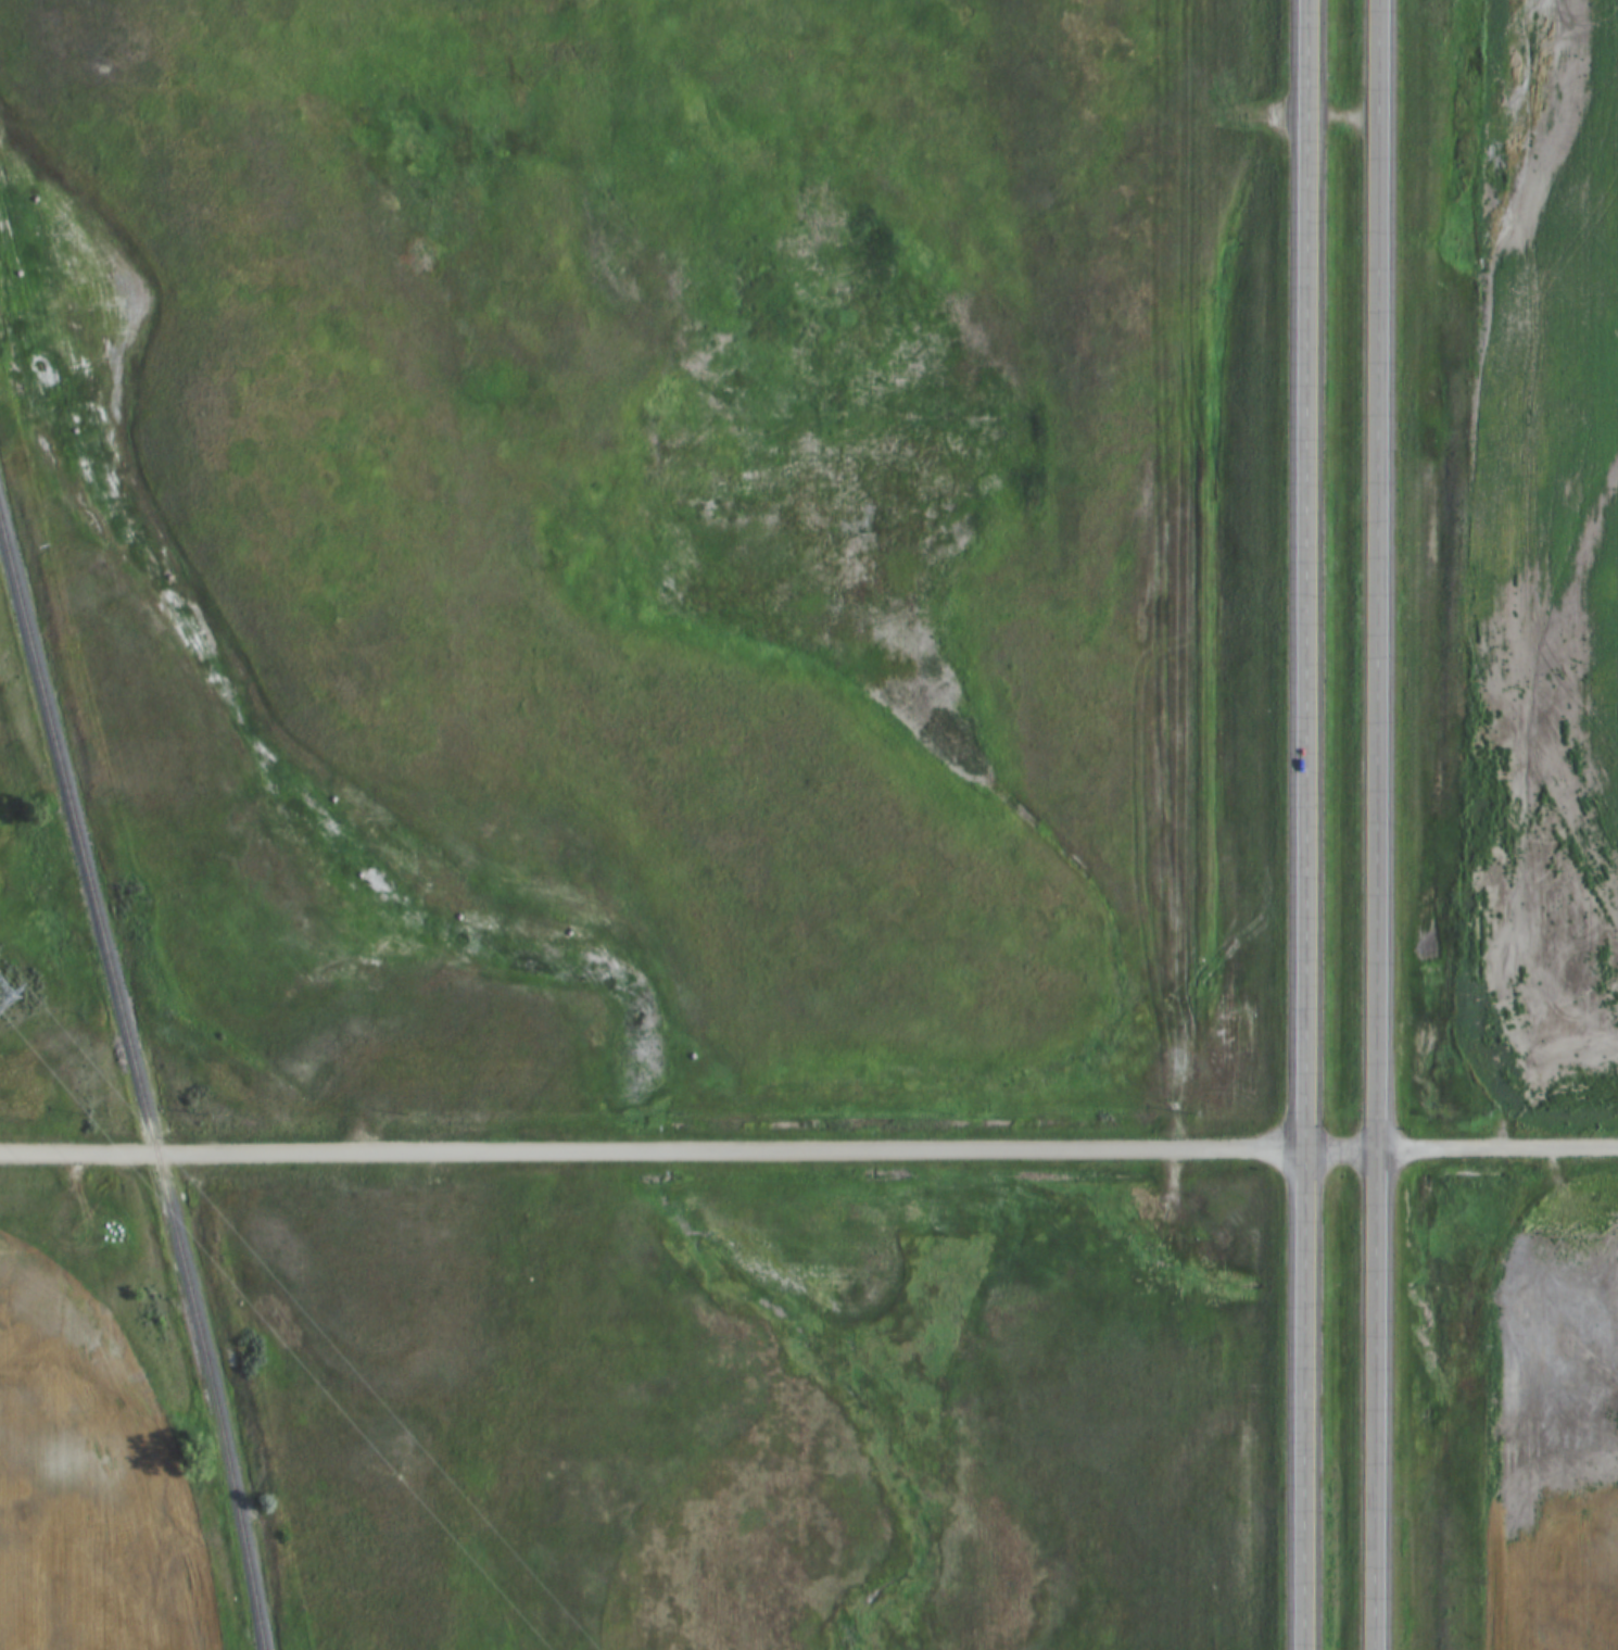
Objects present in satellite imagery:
road: (1306, 824)
road: (1377, 824)
power tower: (2, 988)
railway: (139, 1088)
road: (1496, 1147)
road: (653, 1150)
road: (1341, 1150)

